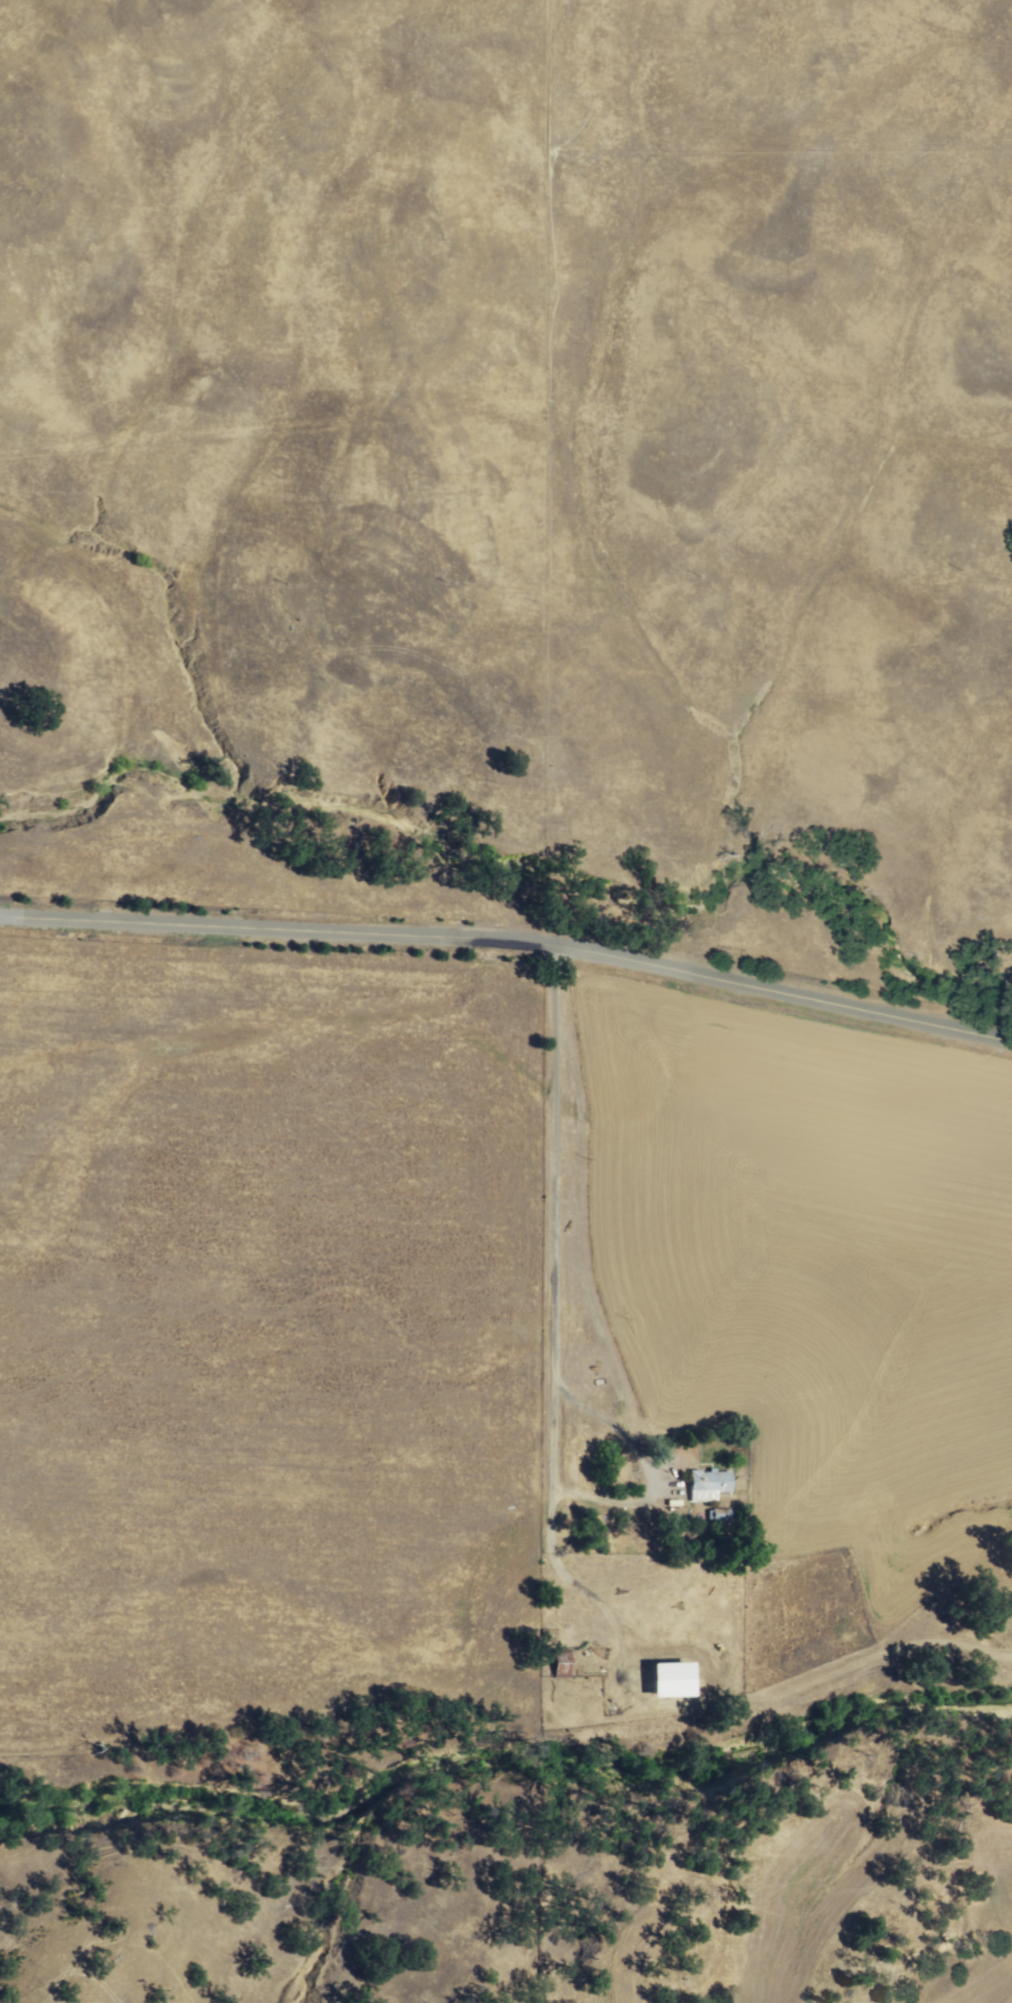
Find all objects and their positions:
road: (510, 940)
road: (580, 1224)
building: (707, 1484)
building: (717, 1515)
building: (670, 1680)
river: (501, 1760)

